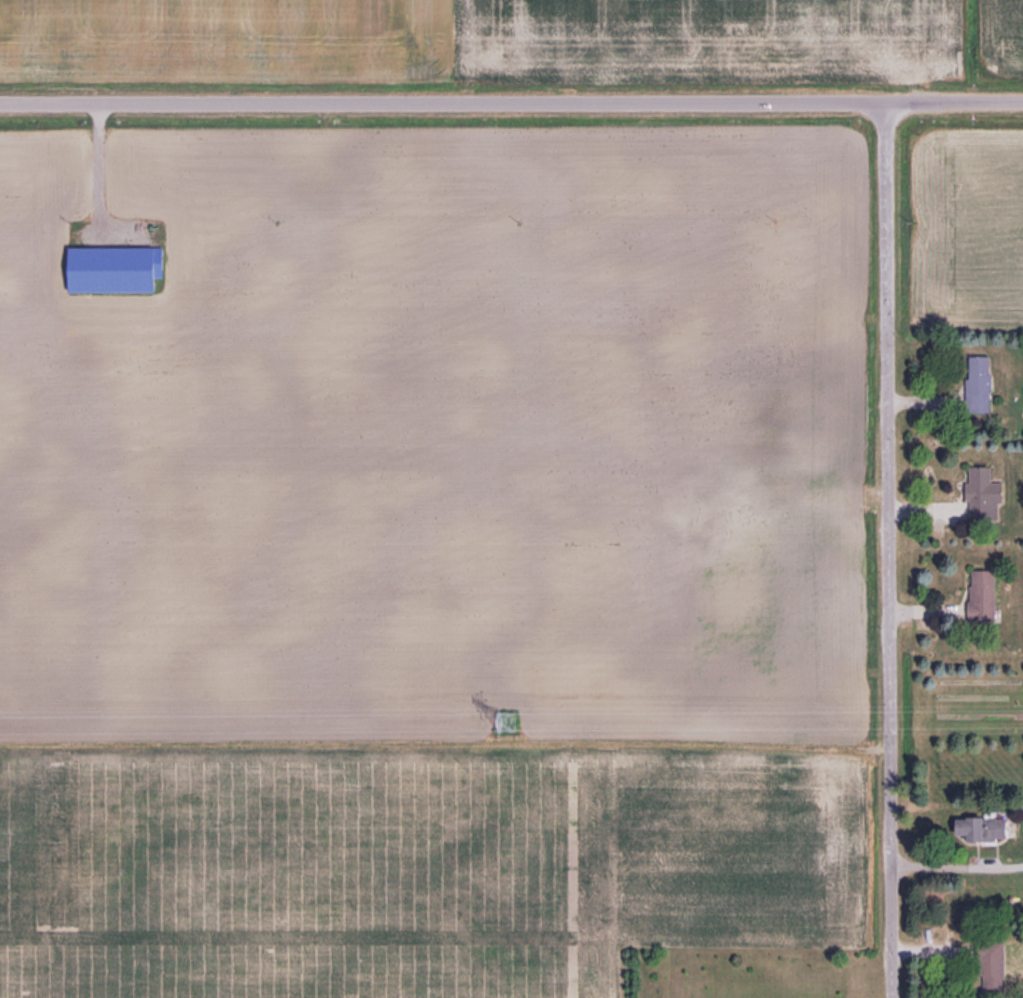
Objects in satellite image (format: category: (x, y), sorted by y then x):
road: (511, 102)
building: (981, 385)
building: (986, 495)
road: (890, 549)
building: (986, 595)
power tower: (510, 720)
building: (988, 830)
road: (958, 866)
building: (994, 962)

